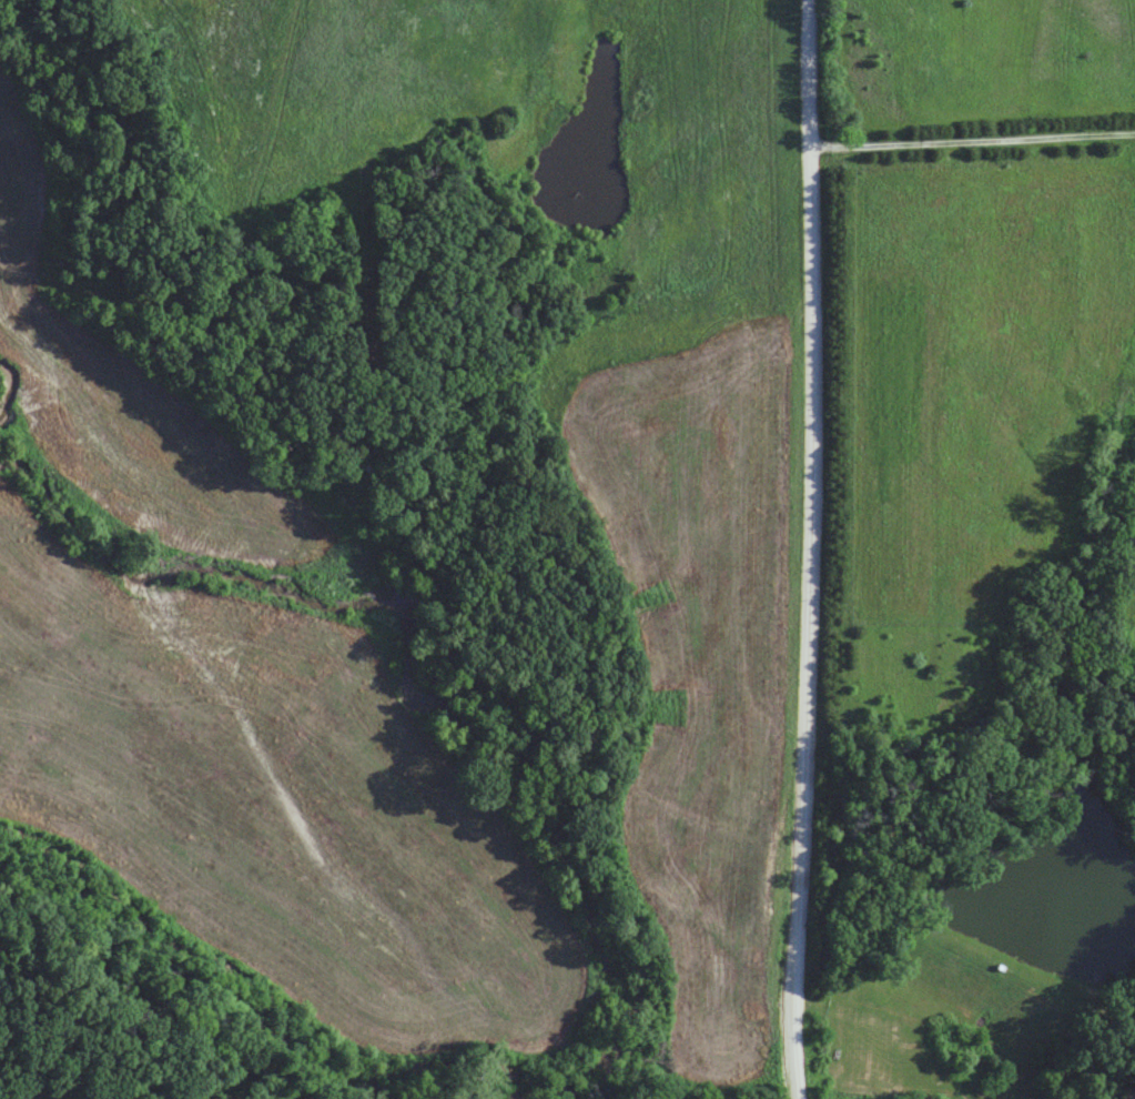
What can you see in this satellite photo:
road: (812, 548)

